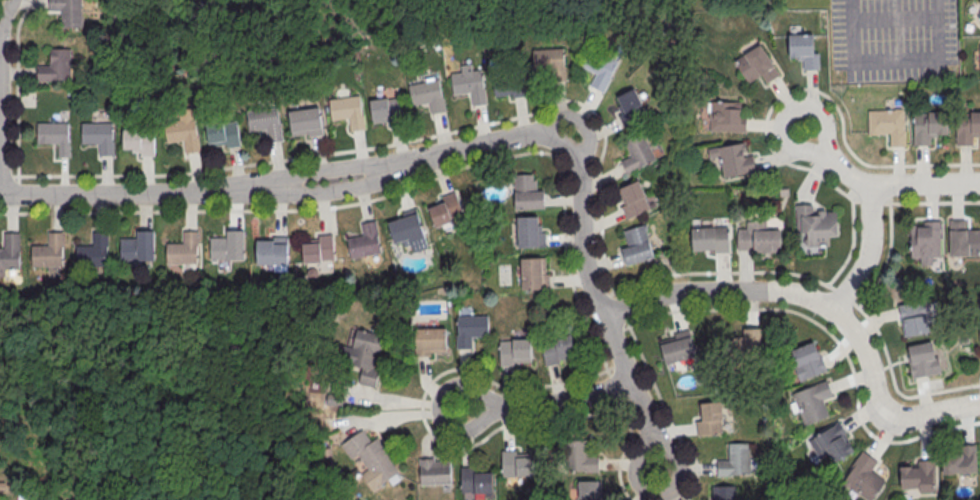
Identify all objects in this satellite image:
parking lot: (166, 1)
building: (979, 2)
building: (68, 12)
building: (979, 14)
parking lot: (893, 39)
building: (804, 51)
road: (895, 60)
building: (551, 63)
building: (756, 64)
building: (56, 66)
building: (599, 68)
building: (509, 84)
building: (469, 85)
building: (429, 94)
building: (630, 109)
building: (387, 110)
building: (349, 112)
building: (727, 118)
building: (306, 122)
building: (266, 123)
building: (888, 125)
building: (928, 126)
building: (967, 127)
building: (224, 134)
building: (184, 135)
building: (55, 136)
building: (100, 137)
road: (402, 140)
building: (139, 142)
building: (637, 154)
road: (834, 159)
building: (734, 160)
road: (783, 161)
road: (924, 165)
road: (6, 175)
road: (276, 178)
road: (925, 183)
road: (395, 191)
building: (527, 193)
road: (310, 194)
building: (634, 201)
building: (447, 210)
building: (816, 226)
building: (409, 231)
building: (530, 233)
building: (759, 239)
building: (711, 240)
building: (926, 241)
building: (964, 241)
building: (365, 242)
building: (637, 246)
building: (228, 247)
building: (139, 248)
road: (852, 248)
building: (319, 250)
building: (183, 251)
building: (273, 251)
building: (10, 252)
building: (49, 253)
building: (93, 253)
road: (868, 254)
road: (887, 260)
building: (534, 275)
road: (827, 286)
road: (599, 303)
road: (622, 306)
road: (821, 306)
building: (915, 319)
building: (470, 330)
road: (835, 341)
building: (431, 342)
building: (745, 345)
building: (556, 349)
building: (678, 349)
building: (514, 353)
building: (362, 357)
building: (924, 361)
building: (809, 363)
road: (616, 386)
building: (813, 403)
road: (546, 405)
road: (667, 411)
building: (710, 419)
road: (543, 423)
building: (832, 444)
road: (625, 450)
building: (578, 458)
building: (372, 460)
building: (736, 462)
building: (960, 462)
building: (516, 465)
building: (435, 473)
building: (919, 478)
building: (864, 479)
building: (475, 482)
building: (590, 491)
building: (724, 493)

